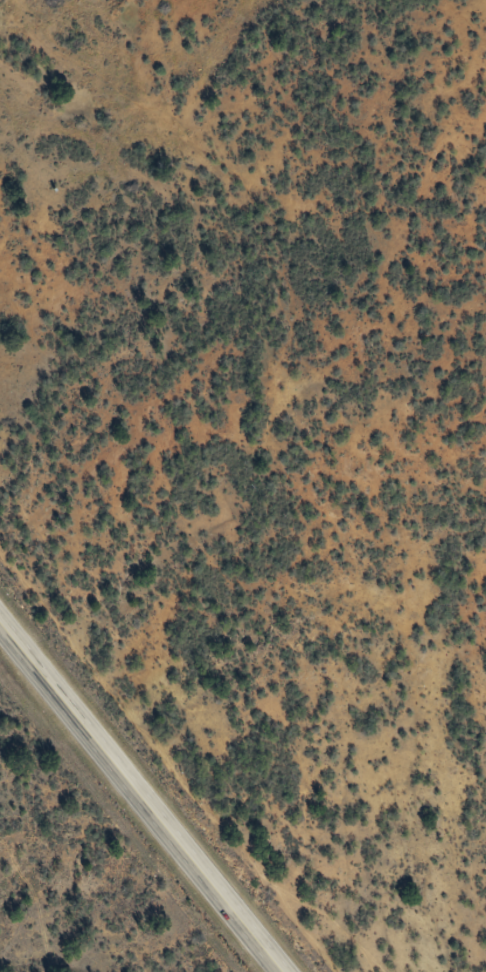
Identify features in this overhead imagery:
road: (143, 795)

